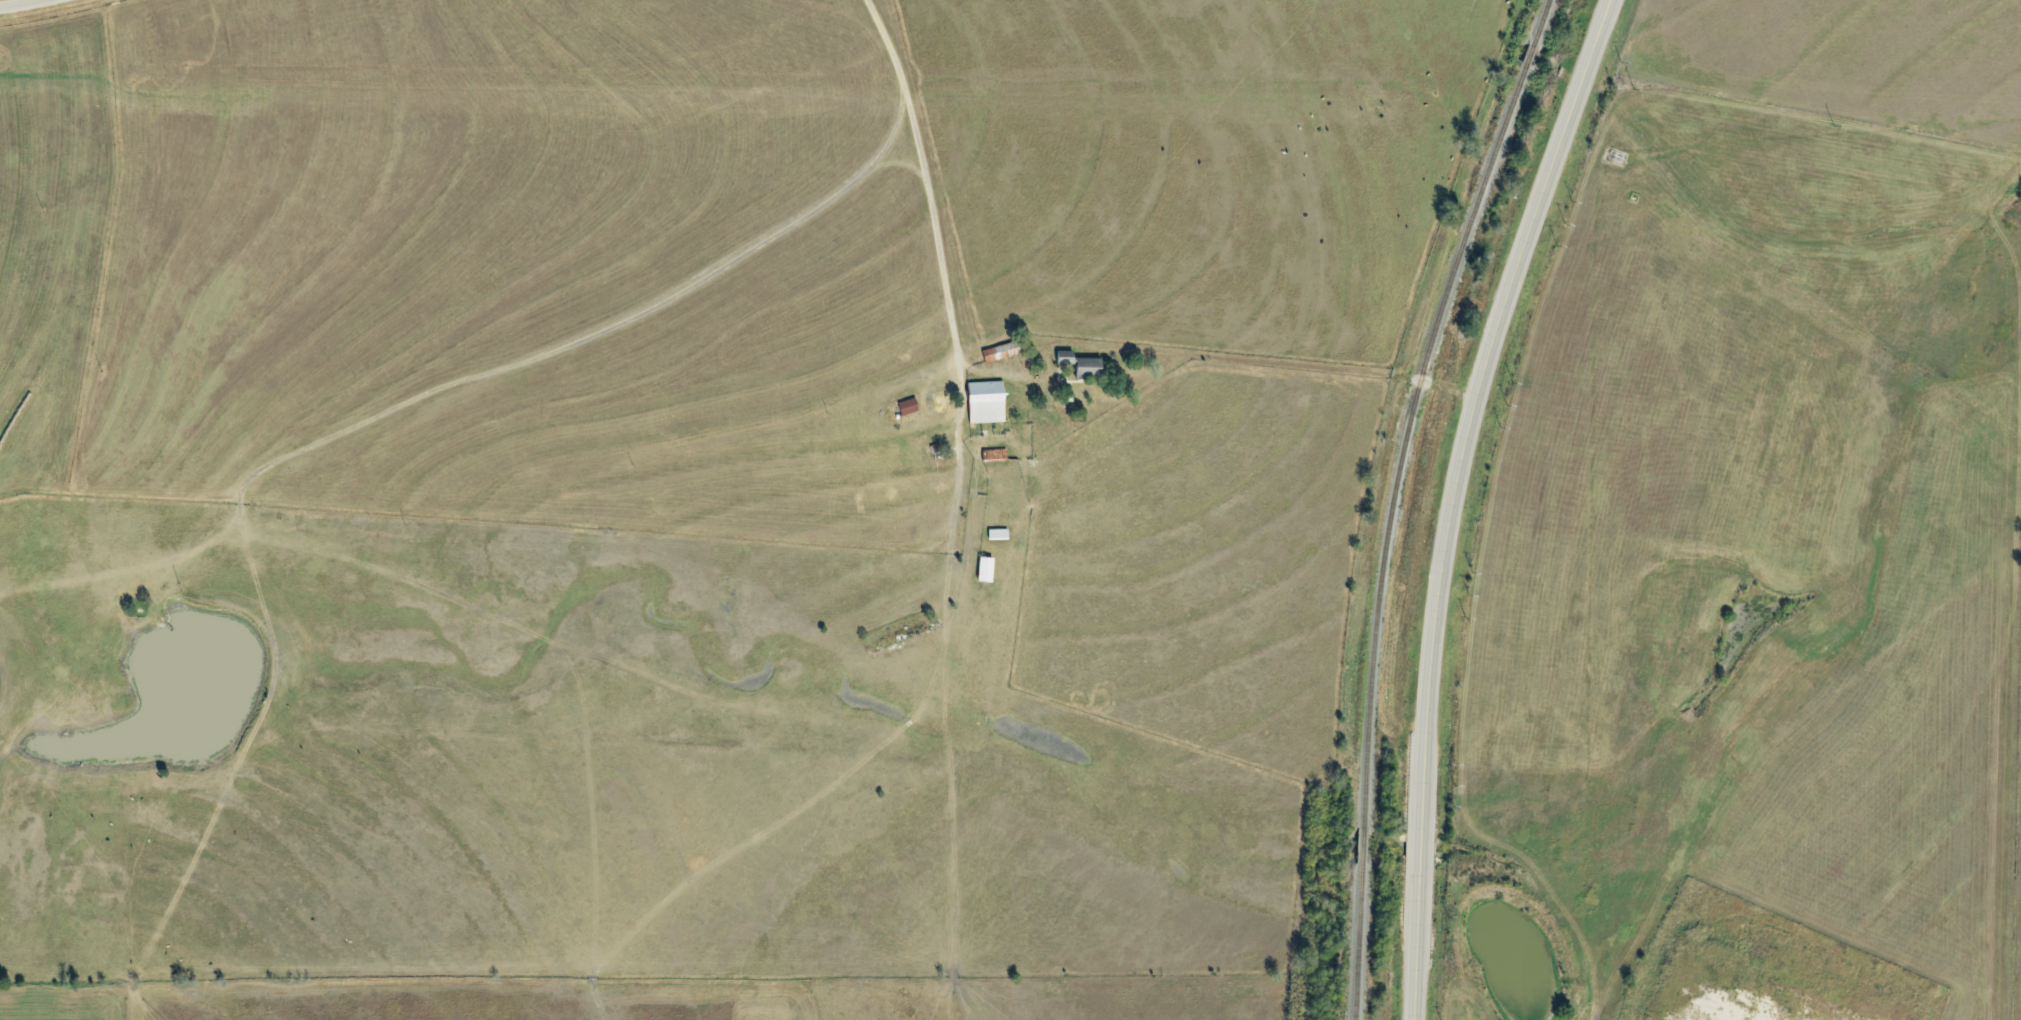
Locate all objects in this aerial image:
road: (21, 3)
building: (998, 352)
building: (1085, 365)
building: (983, 402)
road: (1454, 497)
railway: (1391, 499)
building: (982, 569)

